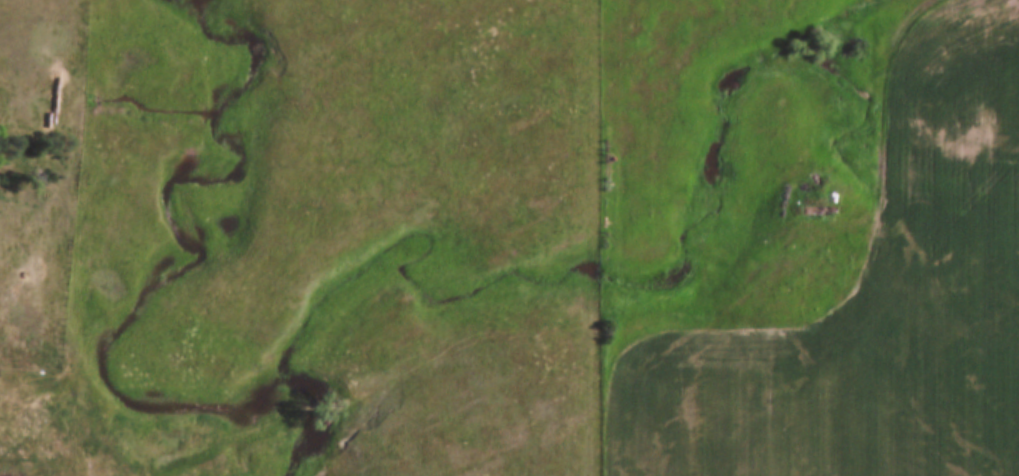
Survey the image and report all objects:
building: (36, 329)
building: (18, 467)

